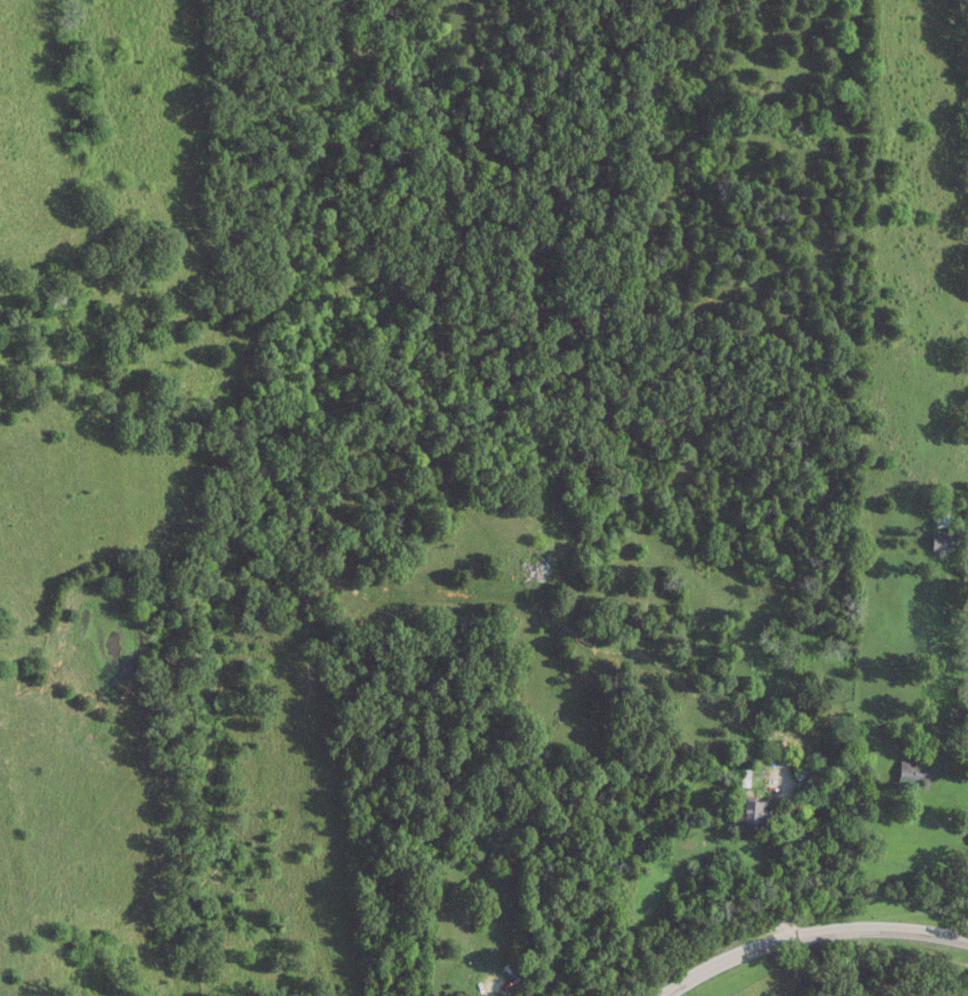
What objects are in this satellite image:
building: (940, 541)
building: (965, 706)
building: (911, 773)
building: (745, 776)
building: (751, 811)
building: (967, 863)
road: (778, 865)
road: (808, 933)

